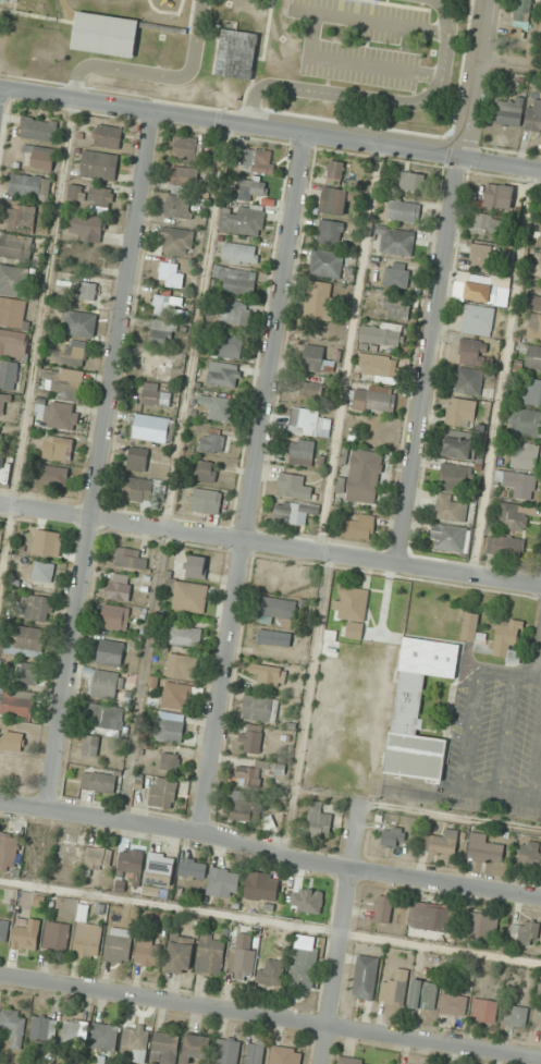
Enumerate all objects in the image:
building: (520, 19)
building: (104, 35)
building: (235, 53)
road: (155, 74)
road: (472, 80)
road: (380, 99)
building: (508, 111)
building: (534, 117)
building: (39, 129)
road: (270, 129)
building: (107, 136)
building: (186, 149)
building: (38, 157)
building: (256, 160)
building: (99, 166)
building: (334, 171)
building: (183, 178)
building: (411, 182)
building: (29, 185)
building: (253, 189)
building: (77, 193)
building: (497, 196)
building: (100, 198)
building: (177, 207)
building: (404, 210)
building: (21, 216)
building: (242, 222)
building: (491, 224)
building: (86, 228)
building: (330, 232)
building: (540, 236)
building: (176, 241)
building: (396, 241)
building: (15, 249)
building: (241, 254)
building: (481, 257)
building: (325, 264)
building: (397, 274)
building: (170, 276)
building: (14, 280)
building: (236, 281)
building: (89, 291)
building: (484, 293)
building: (319, 301)
building: (534, 302)
building: (163, 305)
building: (397, 307)
building: (11, 313)
building: (236, 313)
building: (477, 320)
building: (81, 323)
building: (534, 326)
building: (162, 333)
building: (381, 334)
building: (13, 344)
building: (232, 346)
building: (474, 352)
building: (71, 354)
building: (533, 357)
building: (316, 358)
road: (430, 362)
building: (157, 367)
building: (378, 367)
building: (10, 376)
building: (224, 377)
building: (468, 381)
building: (63, 382)
building: (309, 387)
building: (530, 391)
building: (155, 395)
building: (372, 400)
building: (3, 404)
building: (218, 407)
building: (460, 412)
building: (62, 415)
building: (308, 423)
building: (526, 423)
building: (152, 428)
building: (0, 436)
building: (214, 443)
building: (59, 448)
building: (457, 448)
building: (302, 451)
building: (524, 455)
building: (138, 458)
road: (100, 460)
building: (207, 470)
building: (56, 474)
building: (364, 476)
building: (455, 477)
road: (254, 484)
building: (519, 485)
building: (293, 487)
building: (144, 490)
building: (207, 501)
building: (451, 507)
building: (294, 512)
building: (513, 516)
building: (448, 537)
building: (48, 541)
road: (270, 543)
building: (505, 546)
building: (128, 558)
building: (196, 565)
building: (44, 572)
building: (120, 587)
building: (188, 596)
building: (353, 603)
building: (37, 608)
building: (280, 609)
building: (115, 617)
building: (471, 626)
building: (184, 636)
building: (275, 638)
building: (507, 639)
building: (29, 640)
building: (111, 652)
building: (182, 665)
building: (27, 673)
building: (267, 674)
building: (108, 684)
building: (177, 696)
building: (17, 704)
building: (260, 708)
building: (107, 720)
building: (171, 730)
building: (413, 734)
building: (253, 738)
parking lot: (493, 739)
building: (12, 741)
building: (91, 746)
road: (533, 750)
building: (171, 761)
building: (99, 782)
building: (163, 793)
building: (242, 807)
road: (98, 817)
building: (319, 821)
building: (393, 836)
road: (228, 842)
building: (442, 843)
building: (484, 848)
building: (9, 852)
building: (71, 855)
building: (530, 855)
building: (99, 858)
building: (131, 861)
building: (193, 868)
building: (161, 869)
road: (399, 877)
building: (223, 882)
building: (262, 886)
building: (305, 892)
building: (383, 908)
building: (429, 917)
building: (484, 922)
building: (3, 930)
building: (525, 931)
road: (342, 932)
building: (26, 934)
building: (57, 935)
building: (87, 943)
building: (119, 944)
building: (148, 951)
building: (180, 953)
building: (211, 954)
building: (242, 964)
building: (303, 966)
building: (271, 971)
building: (366, 977)
building: (395, 988)
building: (423, 995)
building: (453, 1004)
building: (484, 1010)
building: (516, 1016)
road: (270, 1018)
building: (13, 1026)
building: (45, 1029)
building: (75, 1030)
building: (104, 1037)
building: (137, 1040)
building: (167, 1047)
building: (196, 1047)
building: (228, 1051)
building: (255, 1052)
building: (285, 1055)
building: (355, 1061)

